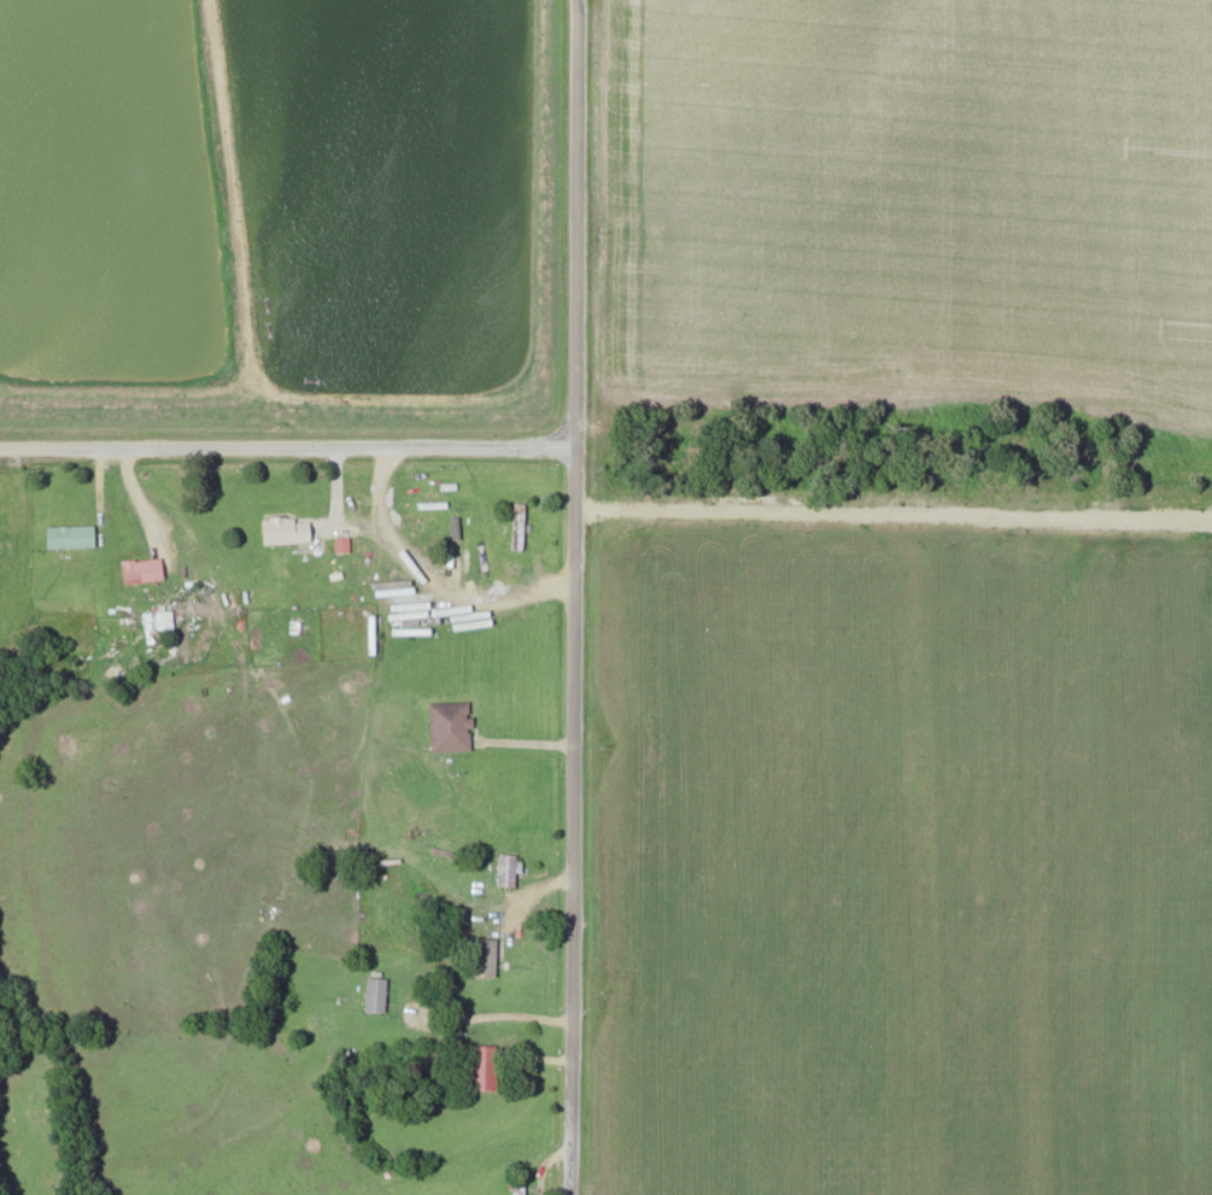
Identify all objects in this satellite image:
road: (288, 445)
building: (520, 525)
building: (288, 528)
building: (71, 534)
building: (144, 568)
road: (580, 597)
building: (452, 725)
building: (510, 869)
building: (488, 956)
building: (377, 994)
building: (487, 1067)
building: (520, 1187)

